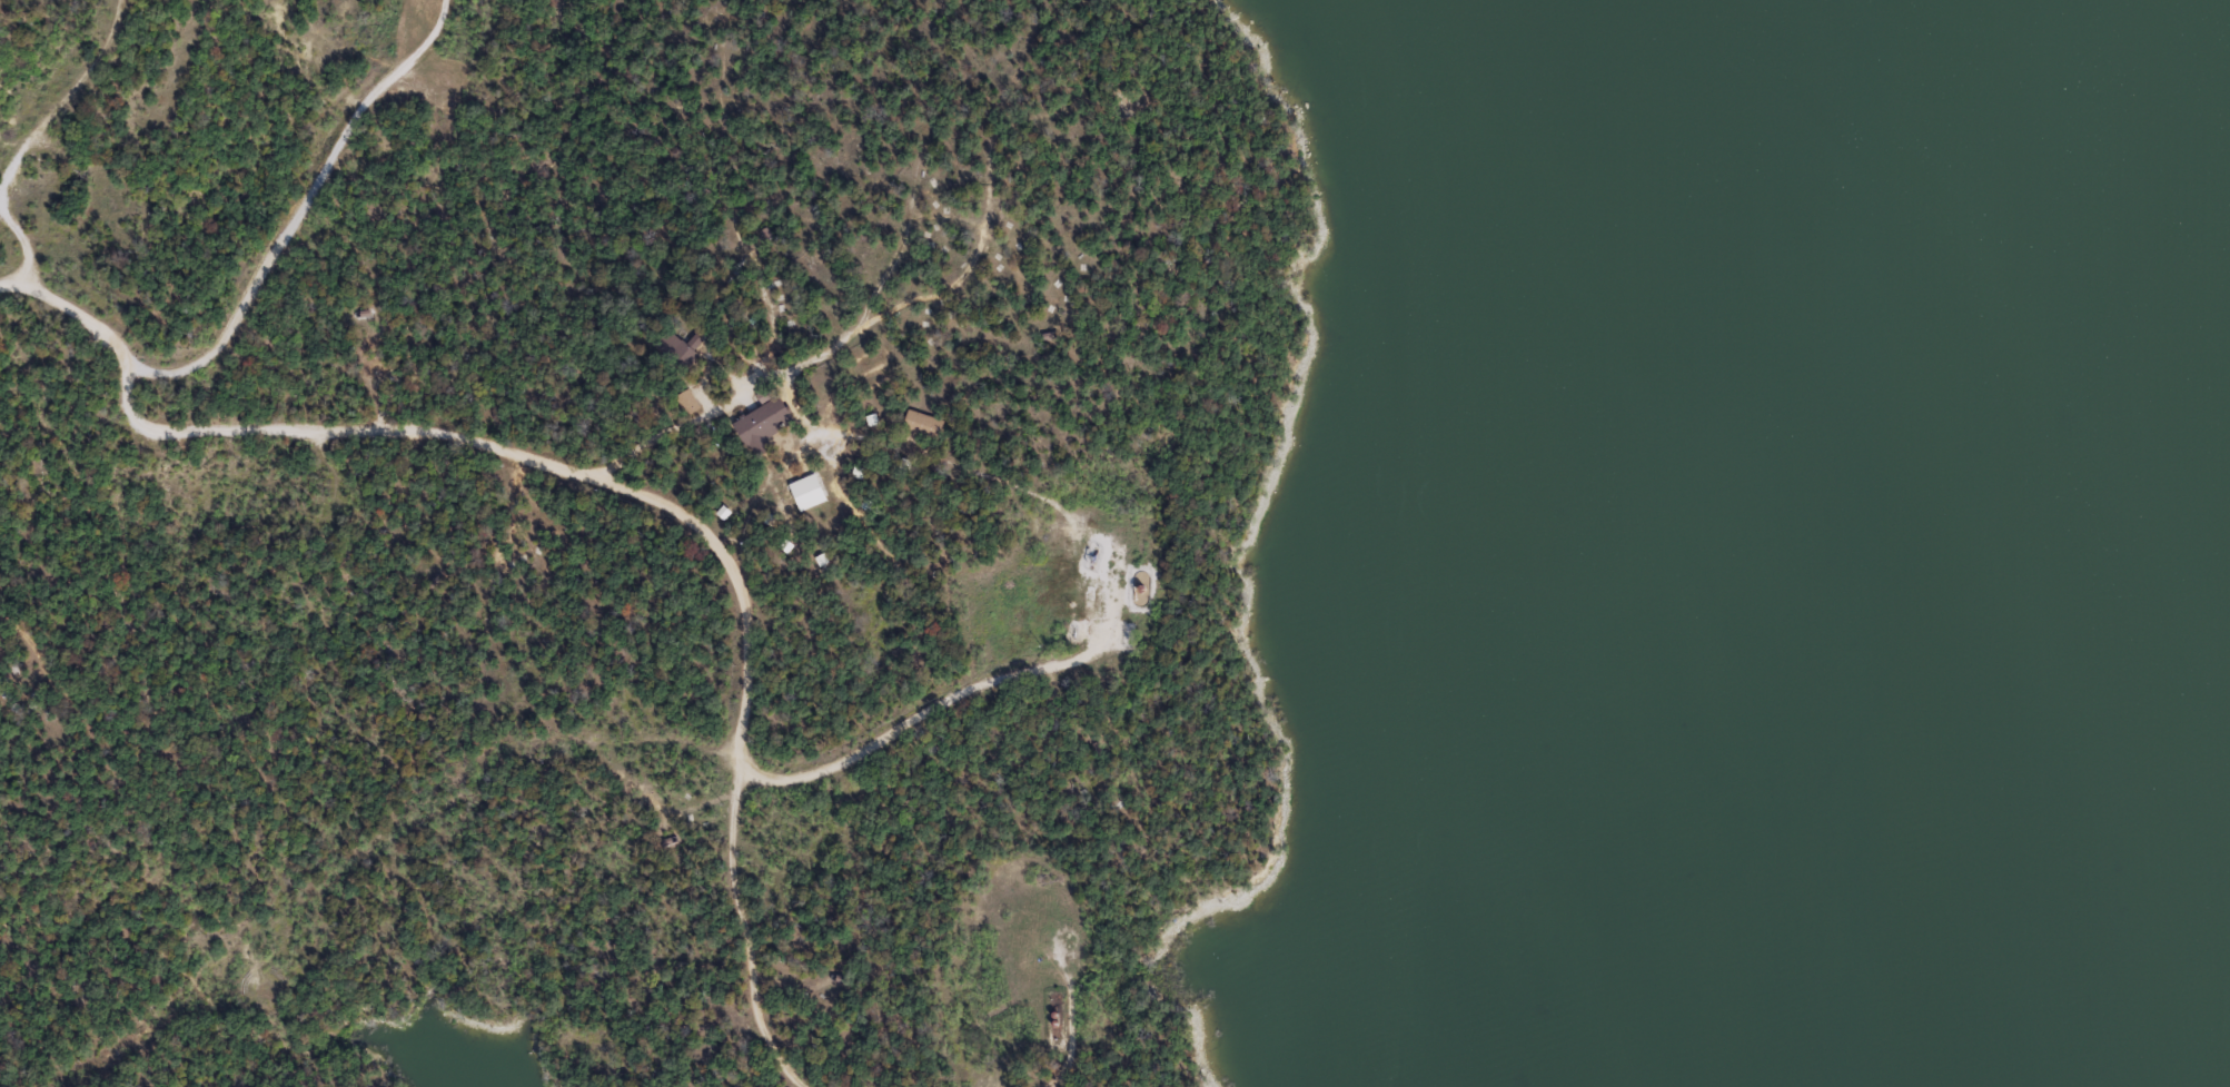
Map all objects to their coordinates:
road: (33, 137)
road: (259, 277)
building: (364, 313)
building: (681, 354)
building: (685, 401)
building: (762, 423)
building: (920, 424)
building: (807, 494)
road: (675, 512)
park: (757, 542)
road: (959, 695)
road: (1072, 1041)

